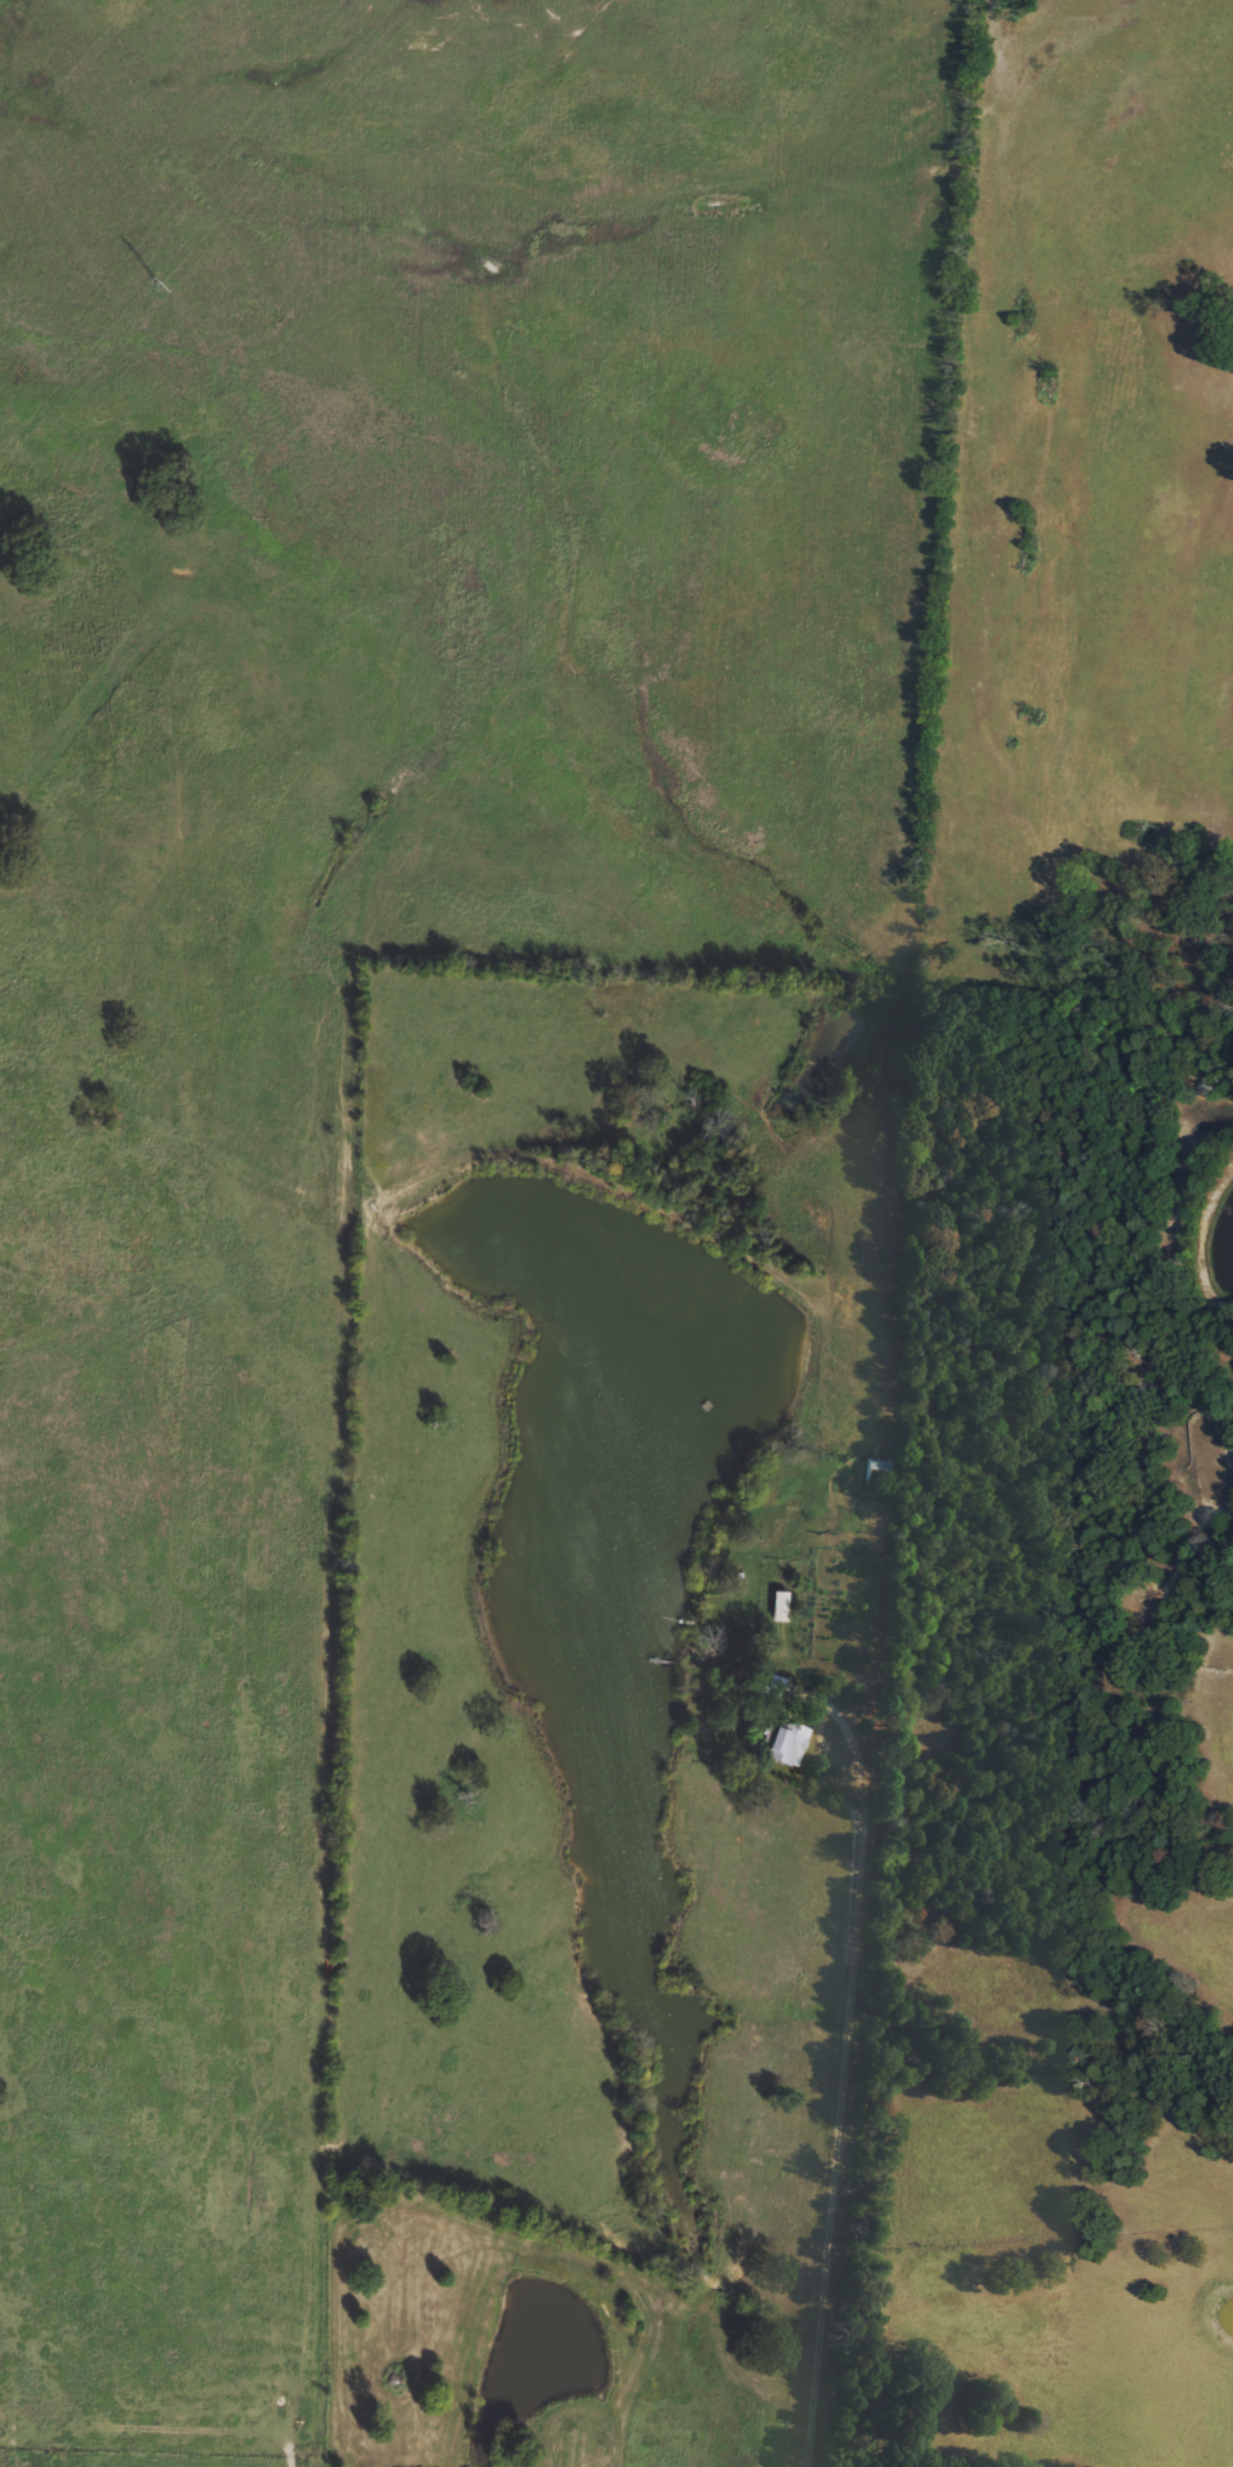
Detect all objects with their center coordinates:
building: (783, 1608)
building: (788, 1745)
road: (858, 2068)

